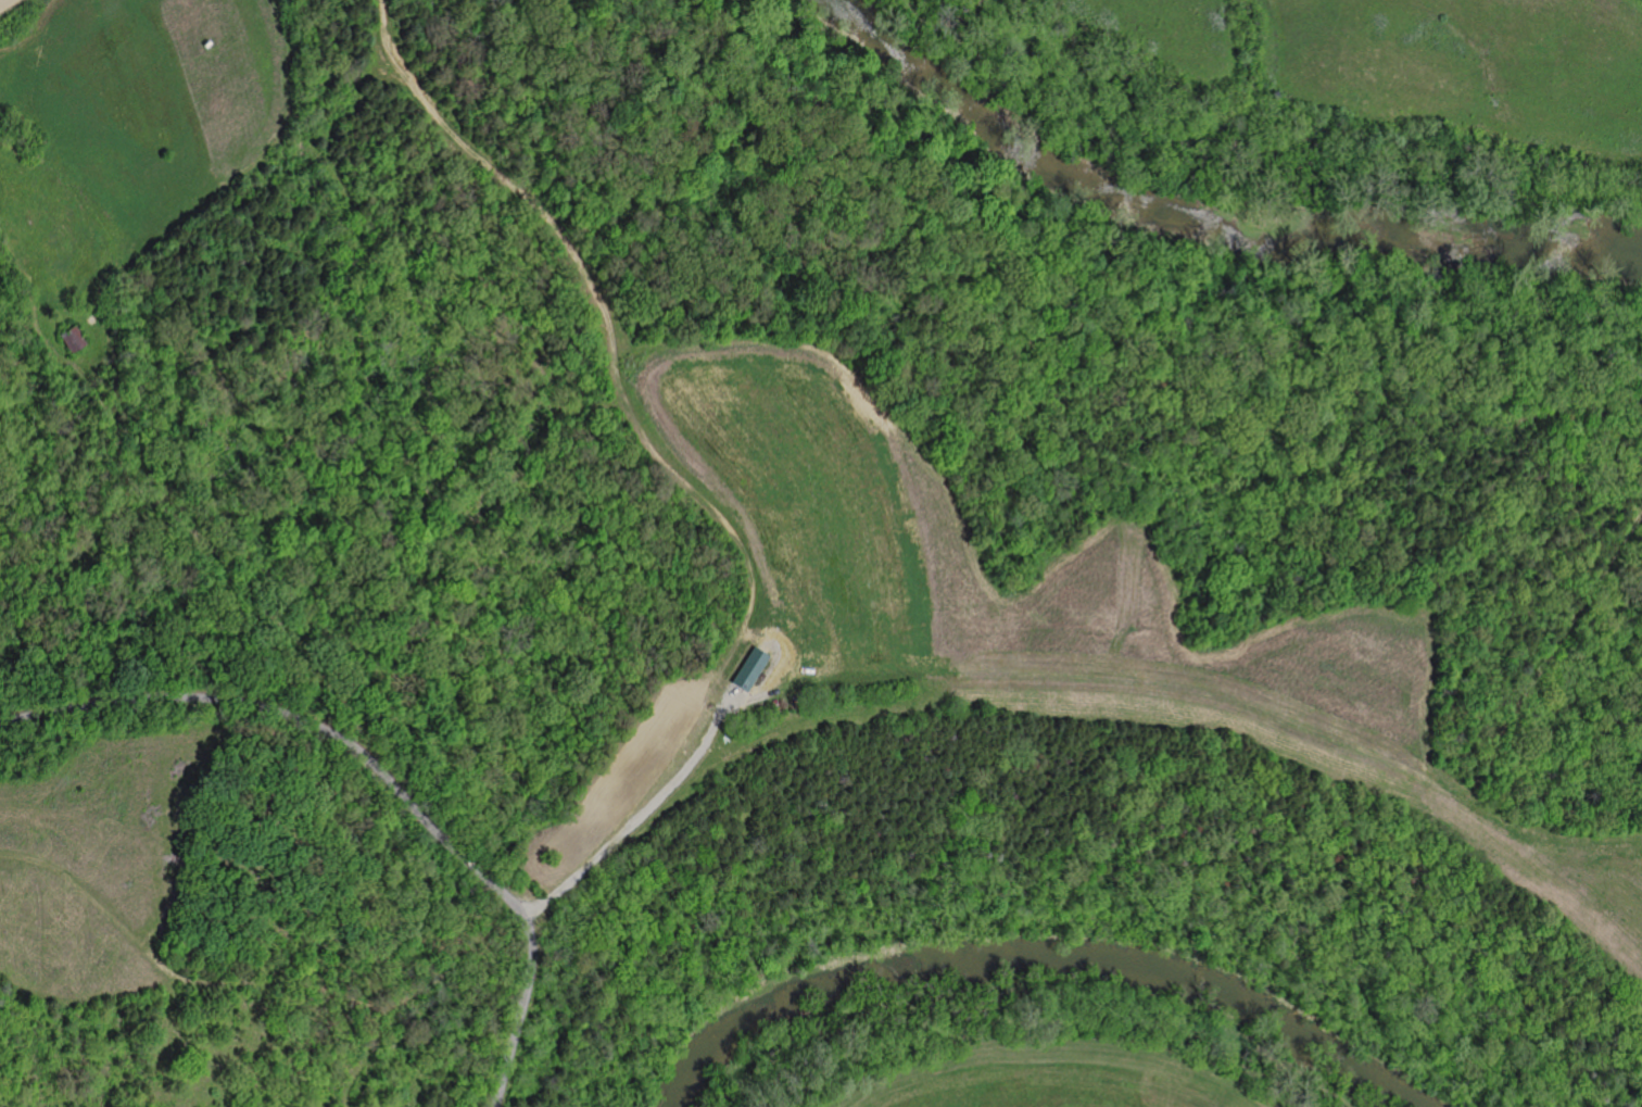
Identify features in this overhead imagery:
crop: (11, 8)
road: (610, 338)
building: (75, 341)
building: (751, 669)
road: (749, 696)
road: (379, 771)
road: (641, 814)

